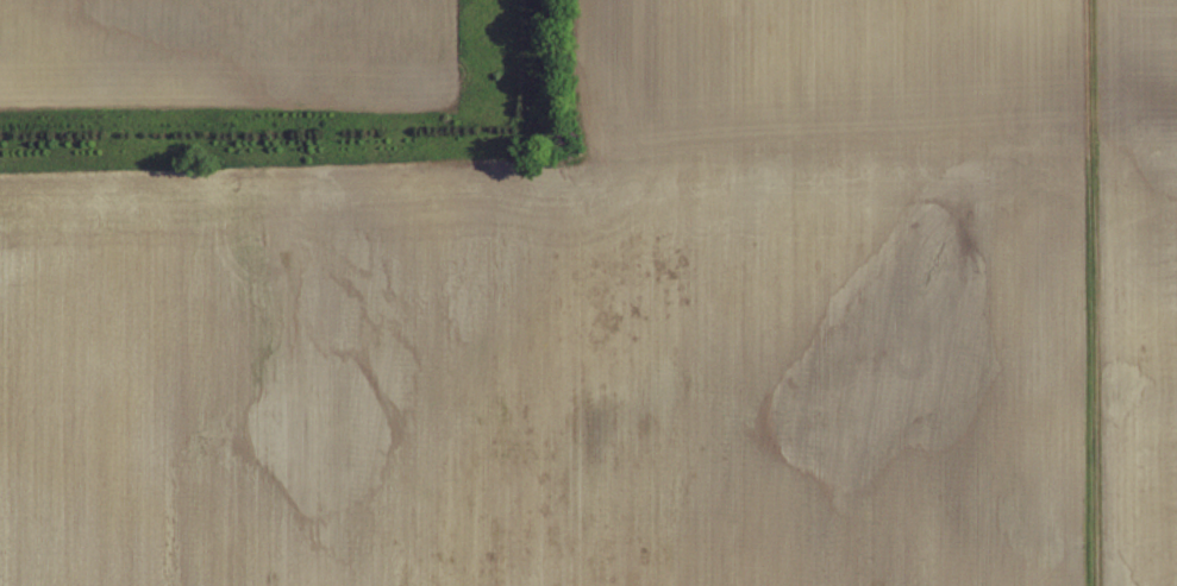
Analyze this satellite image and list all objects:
crop: (218, 39)
crop: (818, 81)
crop: (1148, 288)
road: (1091, 292)
crop: (536, 374)

